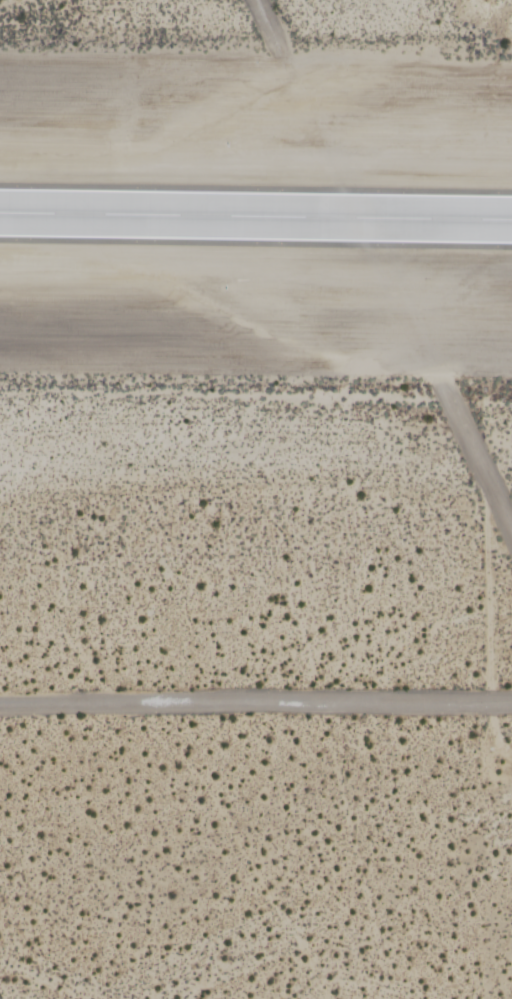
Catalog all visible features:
airport runway: (256, 217)
airport: (256, 499)

